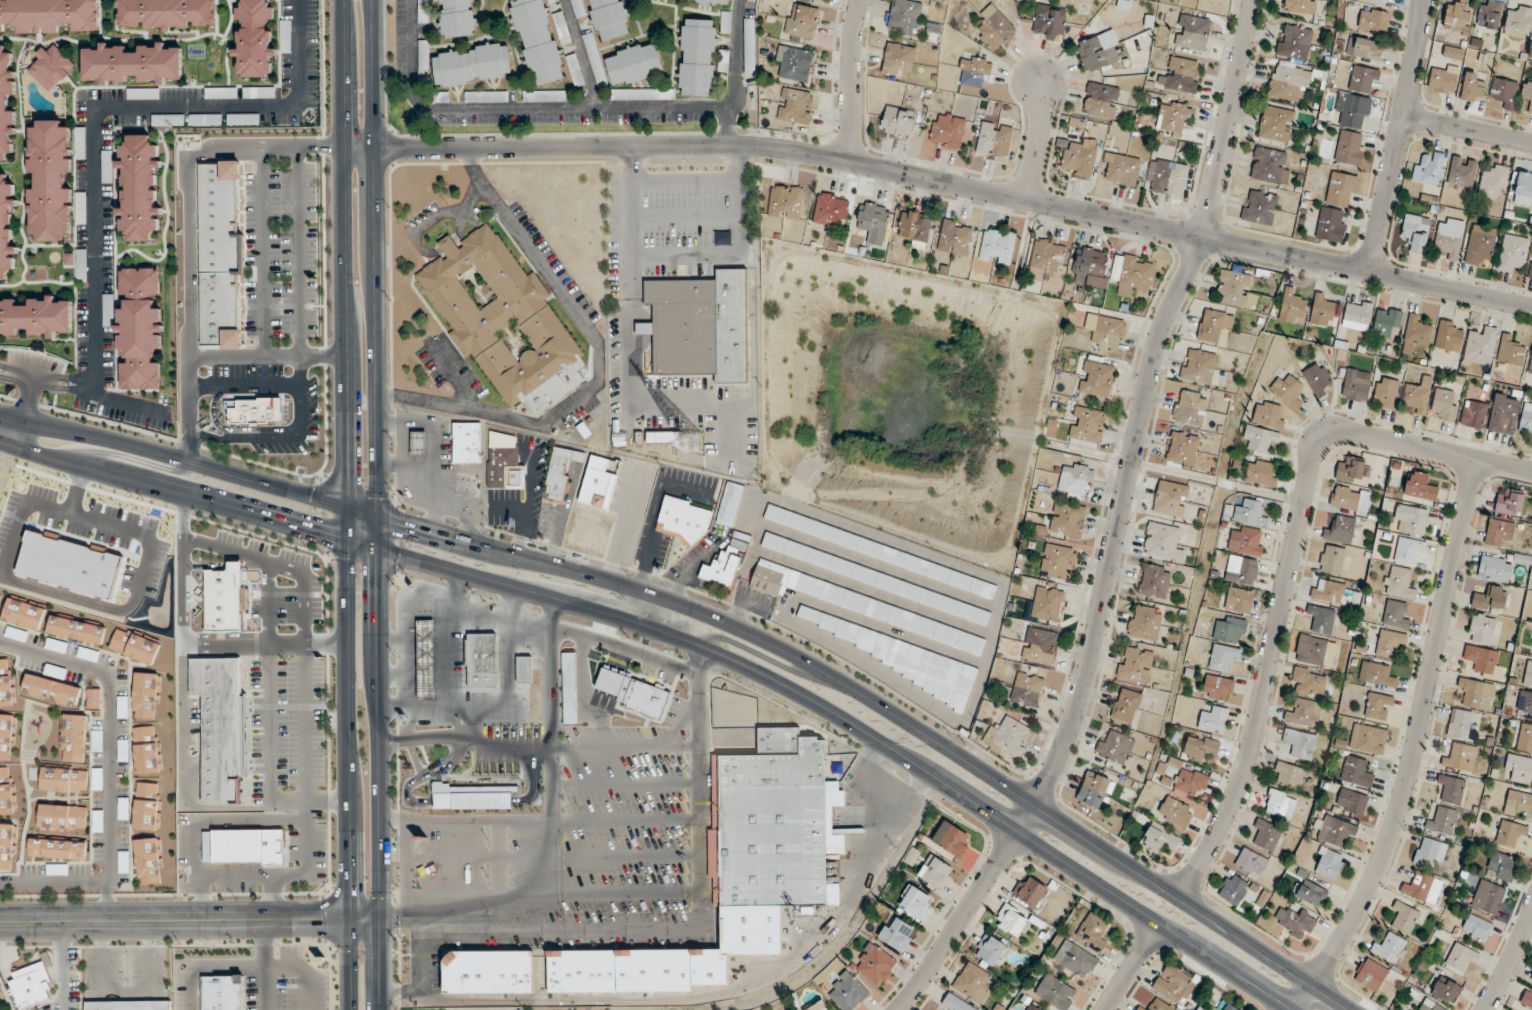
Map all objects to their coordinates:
building: (551, 0)
building: (820, 0)
building: (713, 1)
building: (1371, 1)
building: (1299, 6)
building: (422, 11)
building: (164, 13)
building: (1488, 14)
building: (1456, 15)
building: (48, 16)
building: (903, 16)
building: (456, 18)
building: (607, 19)
building: (1373, 20)
building: (1049, 21)
building: (1518, 21)
building: (801, 23)
building: (725, 25)
building: (994, 29)
building: (1192, 32)
building: (254, 39)
building: (1531, 40)
building: (537, 41)
building: (1294, 42)
building: (749, 45)
building: (1364, 48)
building: (1096, 53)
building: (697, 57)
building: (898, 60)
building: (132, 64)
building: (471, 64)
building: (633, 64)
building: (793, 64)
building: (49, 67)
building: (974, 71)
building: (1182, 75)
road: (849, 79)
building: (1363, 79)
building: (1443, 79)
building: (1289, 82)
building: (1471, 88)
building: (1504, 92)
building: (1527, 92)
building: (440, 96)
building: (485, 96)
building: (1100, 100)
building: (6, 104)
building: (795, 106)
road: (576, 107)
building: (1353, 110)
building: (1173, 117)
building: (897, 122)
building: (1275, 123)
road: (726, 126)
building: (947, 130)
road: (1467, 130)
road: (1398, 136)
road: (93, 138)
road: (1038, 139)
building: (994, 140)
building: (79, 143)
building: (1349, 147)
building: (1078, 159)
building: (1269, 165)
building: (1428, 166)
building: (1121, 169)
building: (1461, 171)
building: (1167, 177)
building: (50, 180)
road: (941, 180)
building: (1493, 182)
building: (139, 187)
building: (1341, 189)
building: (1523, 190)
road: (630, 200)
road: (740, 200)
building: (785, 202)
building: (1259, 207)
building: (80, 208)
building: (830, 210)
building: (872, 218)
building: (1331, 224)
building: (7, 227)
building: (914, 227)
building: (1415, 232)
building: (954, 237)
building: (721, 238)
building: (1479, 244)
building: (1447, 245)
building: (997, 246)
building: (1512, 252)
road: (687, 255)
building: (1046, 258)
building: (80, 265)
building: (1090, 267)
building: (1530, 270)
building: (1134, 276)
building: (1234, 289)
building: (1291, 307)
building: (1321, 309)
building: (1357, 315)
building: (36, 317)
building: (503, 321)
building: (1386, 321)
building: (1213, 325)
building: (699, 326)
building: (139, 329)
building: (1106, 331)
building: (1415, 334)
building: (1449, 336)
building: (1480, 346)
building: (1509, 351)
road: (598, 361)
building: (1531, 364)
building: (1198, 366)
road: (29, 378)
building: (1317, 378)
building: (1096, 379)
road: (84, 384)
building: (1354, 387)
building: (1287, 390)
building: (1385, 392)
building: (1418, 395)
building: (1444, 405)
road: (695, 408)
building: (1189, 408)
road: (24, 412)
building: (1473, 414)
building: (1504, 414)
building: (1268, 415)
building: (1526, 419)
building: (1087, 424)
building: (663, 437)
building: (1260, 438)
building: (466, 443)
building: (418, 444)
building: (1182, 448)
building: (501, 458)
building: (1349, 469)
traffic signals: (343, 471)
building: (560, 471)
building: (1260, 472)
building: (1075, 479)
building: (599, 482)
building: (1420, 486)
building: (1170, 498)
building: (1350, 499)
building: (1509, 502)
building: (729, 504)
road: (343, 505)
road: (376, 505)
building: (1249, 512)
building: (1067, 519)
building: (682, 520)
building: (1410, 520)
road: (1117, 523)
traffic signals: (410, 524)
building: (1340, 530)
traffic signals: (313, 531)
building: (1498, 532)
building: (1246, 541)
building: (1163, 542)
building: (738, 545)
building: (1409, 550)
building: (881, 552)
building: (1332, 559)
building: (1057, 561)
road: (1289, 567)
building: (721, 569)
building: (1494, 569)
building: (1241, 570)
building: (874, 578)
building: (1154, 581)
building: (1399, 583)
traffic signals: (377, 585)
building: (1328, 593)
road: (585, 594)
building: (0, 597)
building: (1489, 599)
building: (1238, 600)
building: (1047, 604)
building: (863, 607)
road: (657, 613)
building: (23, 614)
building: (1395, 616)
road: (412, 619)
road: (516, 619)
road: (717, 619)
building: (1321, 619)
building: (1145, 622)
building: (1482, 629)
building: (75, 630)
building: (1228, 630)
road: (682, 640)
road: (263, 643)
building: (1040, 645)
building: (1388, 645)
building: (133, 646)
road: (625, 650)
building: (1316, 651)
building: (890, 653)
building: (87, 654)
building: (1222, 657)
road: (766, 658)
building: (425, 659)
building: (482, 659)
building: (1481, 659)
building: (1134, 665)
road: (407, 668)
building: (524, 669)
building: (54, 671)
road: (450, 673)
road: (553, 673)
building: (1376, 674)
building: (1528, 675)
building: (1309, 682)
building: (5, 683)
road: (409, 688)
building: (569, 688)
building: (1217, 688)
building: (51, 690)
building: (1027, 690)
building: (631, 692)
building: (1476, 693)
building: (145, 695)
building: (92, 698)
building: (1525, 701)
building: (1126, 706)
building: (1378, 706)
building: (121, 707)
building: (1308, 713)
road: (465, 717)
building: (1214, 719)
building: (1461, 724)
building: (219, 725)
building: (5, 736)
building: (73, 738)
building: (1008, 738)
building: (1525, 738)
building: (1368, 739)
building: (96, 741)
road: (109, 741)
building: (1299, 743)
road: (1413, 744)
road: (500, 746)
road: (672, 747)
building: (1114, 747)
building: (1200, 748)
building: (146, 749)
building: (1460, 757)
building: (1519, 768)
building: (1356, 772)
road: (181, 775)
building: (1288, 775)
building: (63, 780)
building: (1190, 782)
building: (1451, 788)
building: (1093, 789)
building: (6, 792)
building: (472, 795)
building: (1351, 801)
road: (307, 802)
building: (1280, 804)
building: (1518, 804)
building: (146, 806)
building: (1175, 812)
road: (391, 815)
building: (62, 817)
road: (476, 819)
building: (1441, 821)
building: (1334, 831)
building: (1265, 835)
building: (1510, 836)
building: (1159, 838)
building: (952, 839)
building: (6, 845)
building: (243, 845)
building: (56, 849)
building: (1430, 853)
building: (147, 861)
building: (1251, 862)
building: (1328, 863)
road: (404, 866)
building: (1501, 866)
building: (737, 869)
building: (935, 873)
road: (285, 875)
road: (54, 882)
building: (1422, 887)
building: (1233, 889)
building: (1029, 891)
building: (1310, 891)
building: (1488, 897)
road: (201, 898)
road: (269, 898)
road: (492, 899)
building: (915, 903)
building: (1404, 918)
building: (1010, 920)
road: (190, 921)
building: (1294, 922)
building: (1476, 929)
building: (1092, 932)
building: (897, 935)
building: (1389, 948)
building: (990, 950)
building: (1461, 957)
building: (1075, 959)
road: (1510, 962)
road: (263, 965)
building: (873, 965)
road: (1131, 967)
building: (487, 972)
building: (1370, 974)
building: (1531, 977)
building: (972, 983)
building: (1174, 985)
building: (31, 986)
building: (1445, 990)
road: (126, 991)
building: (848, 992)
building: (1055, 992)
building: (222, 993)
building: (1526, 1001)
building: (955, 1003)
building: (128, 1005)
building: (817, 1006)
building: (1155, 1006)
building: (1429, 1006)
building: (1033, 1007)
building: (1229, 1007)

